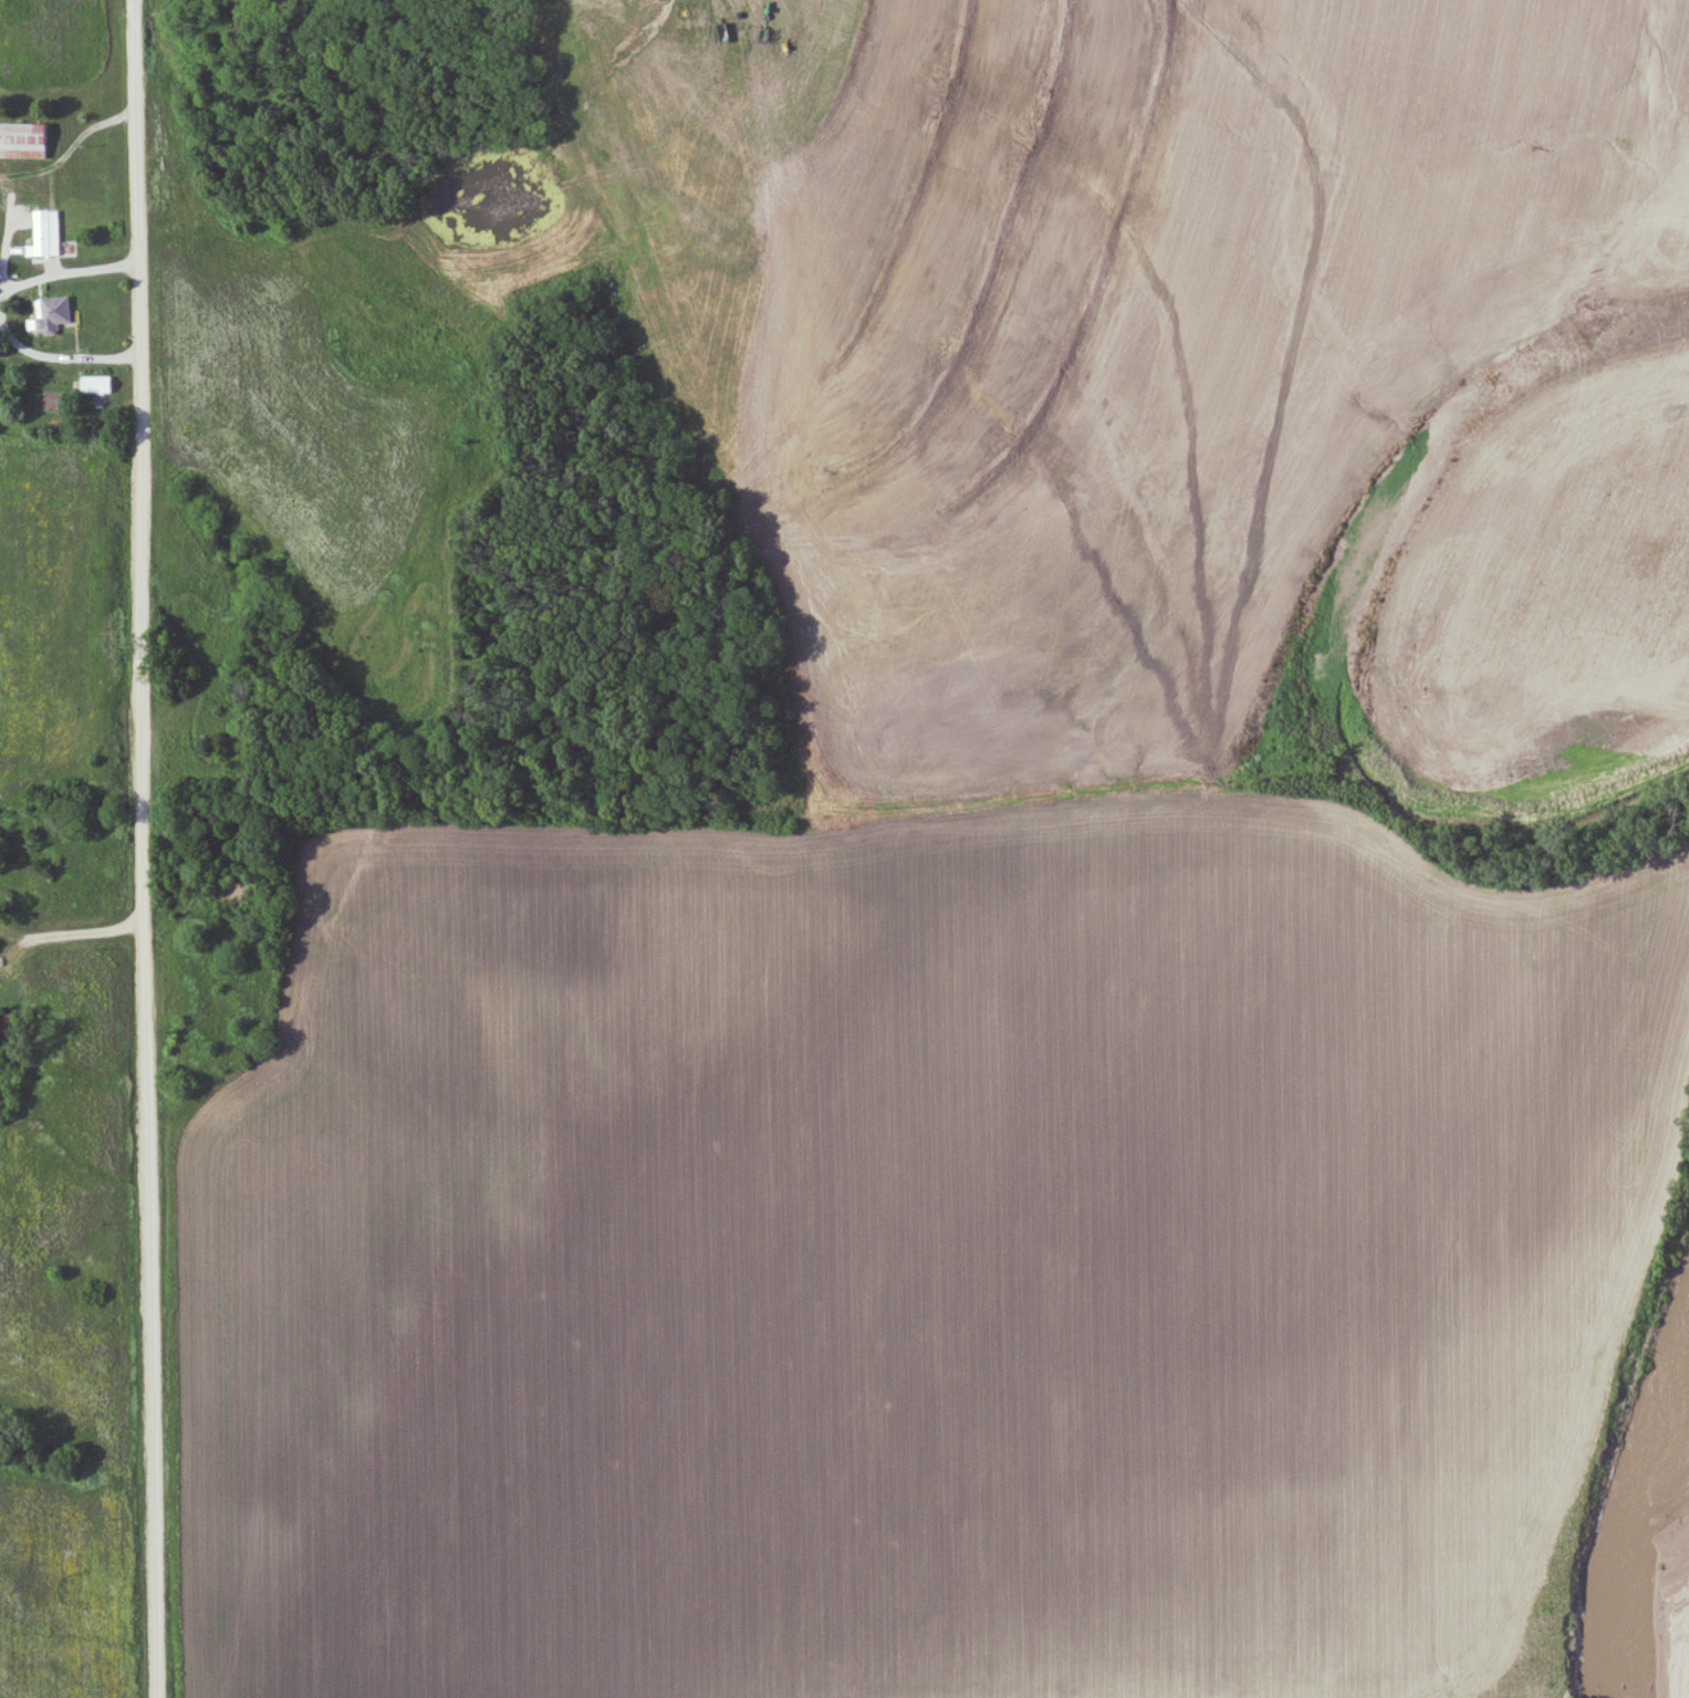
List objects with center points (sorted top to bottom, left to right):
building: (23, 142)
building: (45, 238)
building: (51, 314)
road: (6, 320)
building: (94, 386)
road: (148, 848)
road: (72, 942)

